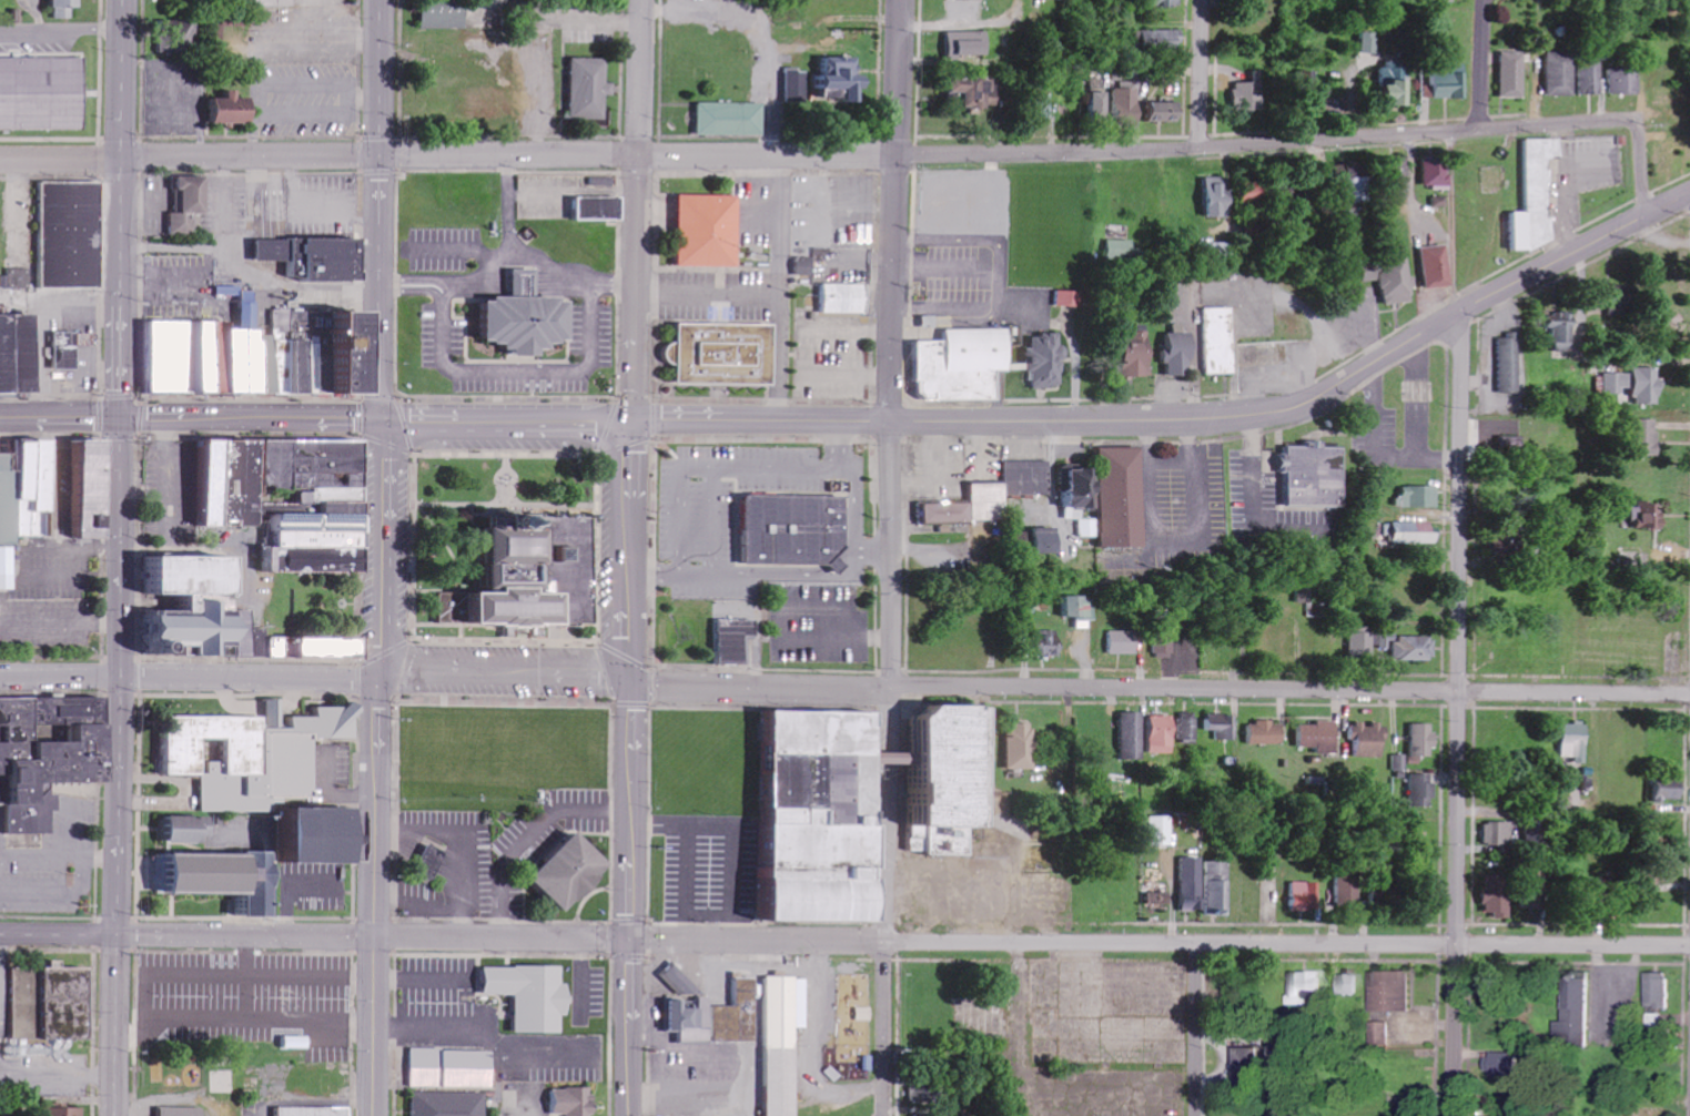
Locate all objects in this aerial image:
building: (1445, 1)
building: (277, 3)
building: (64, 8)
building: (446, 13)
building: (178, 38)
building: (1163, 40)
building: (968, 44)
road: (1484, 62)
road: (1201, 72)
building: (1560, 74)
building: (1512, 75)
building: (841, 80)
building: (1590, 80)
building: (1623, 82)
building: (796, 85)
building: (1449, 85)
building: (1396, 87)
building: (590, 89)
building: (975, 93)
building: (41, 94)
building: (1251, 94)
building: (1674, 98)
building: (1127, 102)
building: (1100, 104)
building: (233, 111)
building: (1166, 112)
building: (730, 119)
building: (1687, 143)
road: (1011, 149)
road: (191, 158)
building: (1668, 159)
road: (1641, 165)
building: (1436, 172)
building: (1357, 185)
building: (1221, 197)
building: (1534, 199)
building: (185, 203)
road: (123, 209)
road: (382, 209)
road: (644, 209)
building: (600, 210)
road: (893, 210)
road: (1453, 220)
building: (706, 229)
building: (67, 233)
building: (1121, 250)
building: (310, 255)
building: (1435, 267)
building: (22, 278)
building: (1390, 278)
building: (846, 298)
building: (1067, 300)
building: (519, 322)
building: (1560, 331)
building: (1218, 342)
building: (62, 349)
gas station: (62, 349)
building: (720, 351)
building: (13, 353)
building: (1135, 353)
building: (253, 355)
building: (1177, 355)
building: (1046, 362)
building: (964, 366)
building: (1509, 366)
building: (1635, 385)
road: (251, 415)
road: (60, 416)
road: (506, 418)
road: (1188, 422)
building: (1646, 438)
building: (1313, 475)
building: (223, 484)
building: (21, 488)
building: (1009, 488)
building: (85, 489)
building: (1111, 495)
building: (1419, 496)
building: (307, 506)
building: (948, 511)
building: (1645, 516)
building: (1085, 527)
building: (796, 529)
building: (1415, 532)
building: (1044, 540)
building: (7, 567)
building: (530, 572)
building: (1302, 595)
building: (206, 606)
building: (1317, 608)
building: (1079, 610)
building: (736, 640)
building: (1122, 641)
building: (1049, 643)
building: (1164, 645)
building: (1362, 645)
building: (316, 646)
building: (1407, 646)
road: (189, 674)
road: (117, 676)
road: (1032, 684)
road: (1461, 713)
building: (1190, 727)
building: (1261, 732)
building: (1225, 733)
building: (1162, 734)
building: (1134, 735)
building: (1320, 737)
building: (1367, 740)
building: (1423, 740)
building: (1578, 742)
building: (1022, 745)
building: (49, 753)
building: (253, 754)
building: (1399, 762)
road: (377, 767)
road: (631, 767)
road: (888, 768)
building: (1421, 791)
building: (1669, 791)
building: (827, 815)
building: (164, 829)
building: (188, 830)
building: (1162, 831)
building: (1501, 833)
building: (318, 834)
building: (432, 861)
building: (573, 872)
building: (229, 877)
building: (1192, 884)
building: (1217, 887)
building: (1349, 890)
building: (1392, 893)
building: (1498, 895)
building: (1161, 896)
building: (1306, 896)
building: (1535, 901)
road: (247, 934)
road: (58, 935)
road: (1034, 940)
building: (680, 982)
building: (1350, 984)
building: (1309, 987)
building: (1660, 990)
building: (1393, 991)
building: (533, 995)
building: (51, 1003)
building: (719, 1017)
building: (1579, 1021)
road: (113, 1025)
road: (1195, 1028)
building: (1379, 1033)
building: (786, 1041)
building: (1258, 1062)
building: (1510, 1064)
building: (453, 1068)
building: (923, 1093)
building: (574, 1102)
building: (449, 1104)
building: (314, 1110)
building: (65, 1112)
building: (182, 1112)

